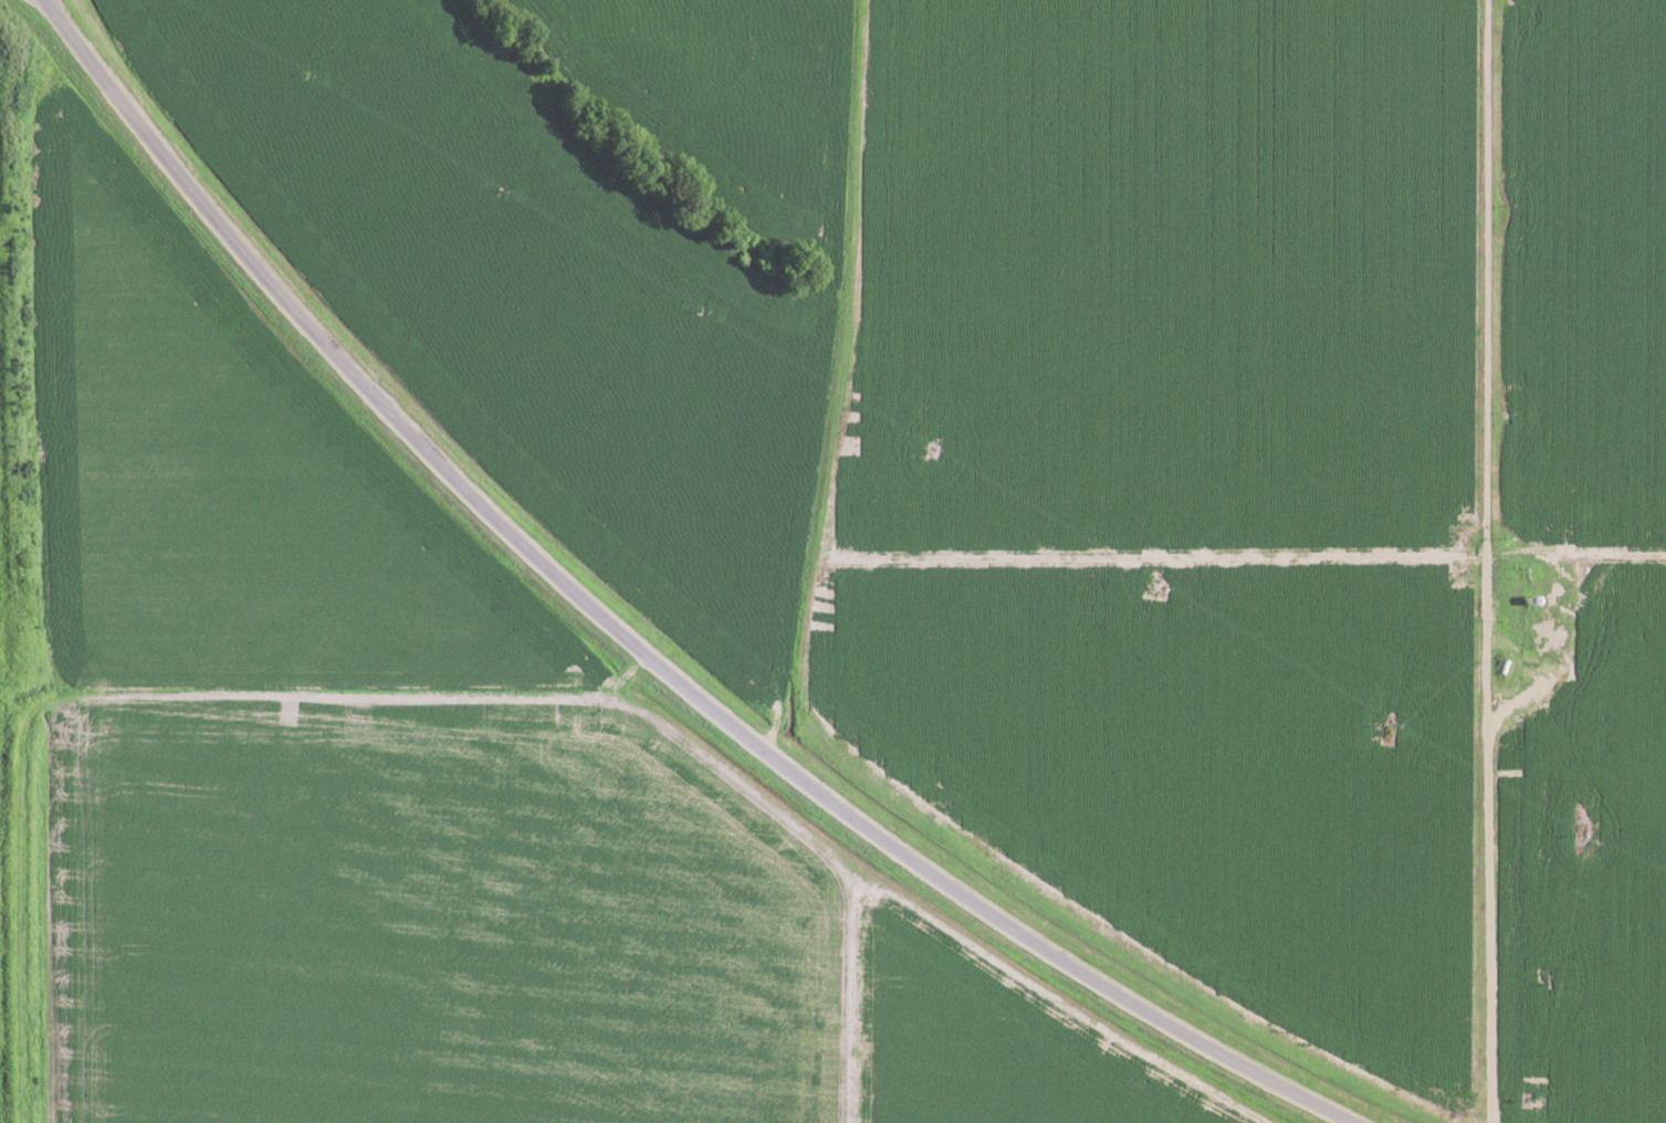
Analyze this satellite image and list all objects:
road: (1489, 560)
road: (627, 642)

